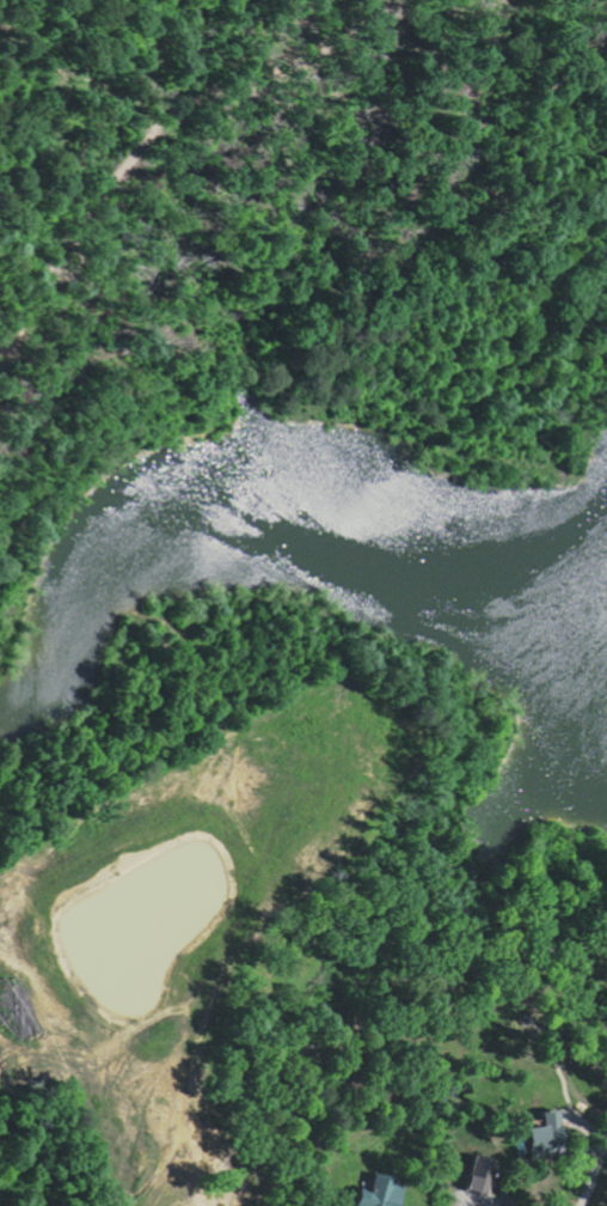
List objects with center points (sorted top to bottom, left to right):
building: (483, 1174)
building: (382, 1192)

